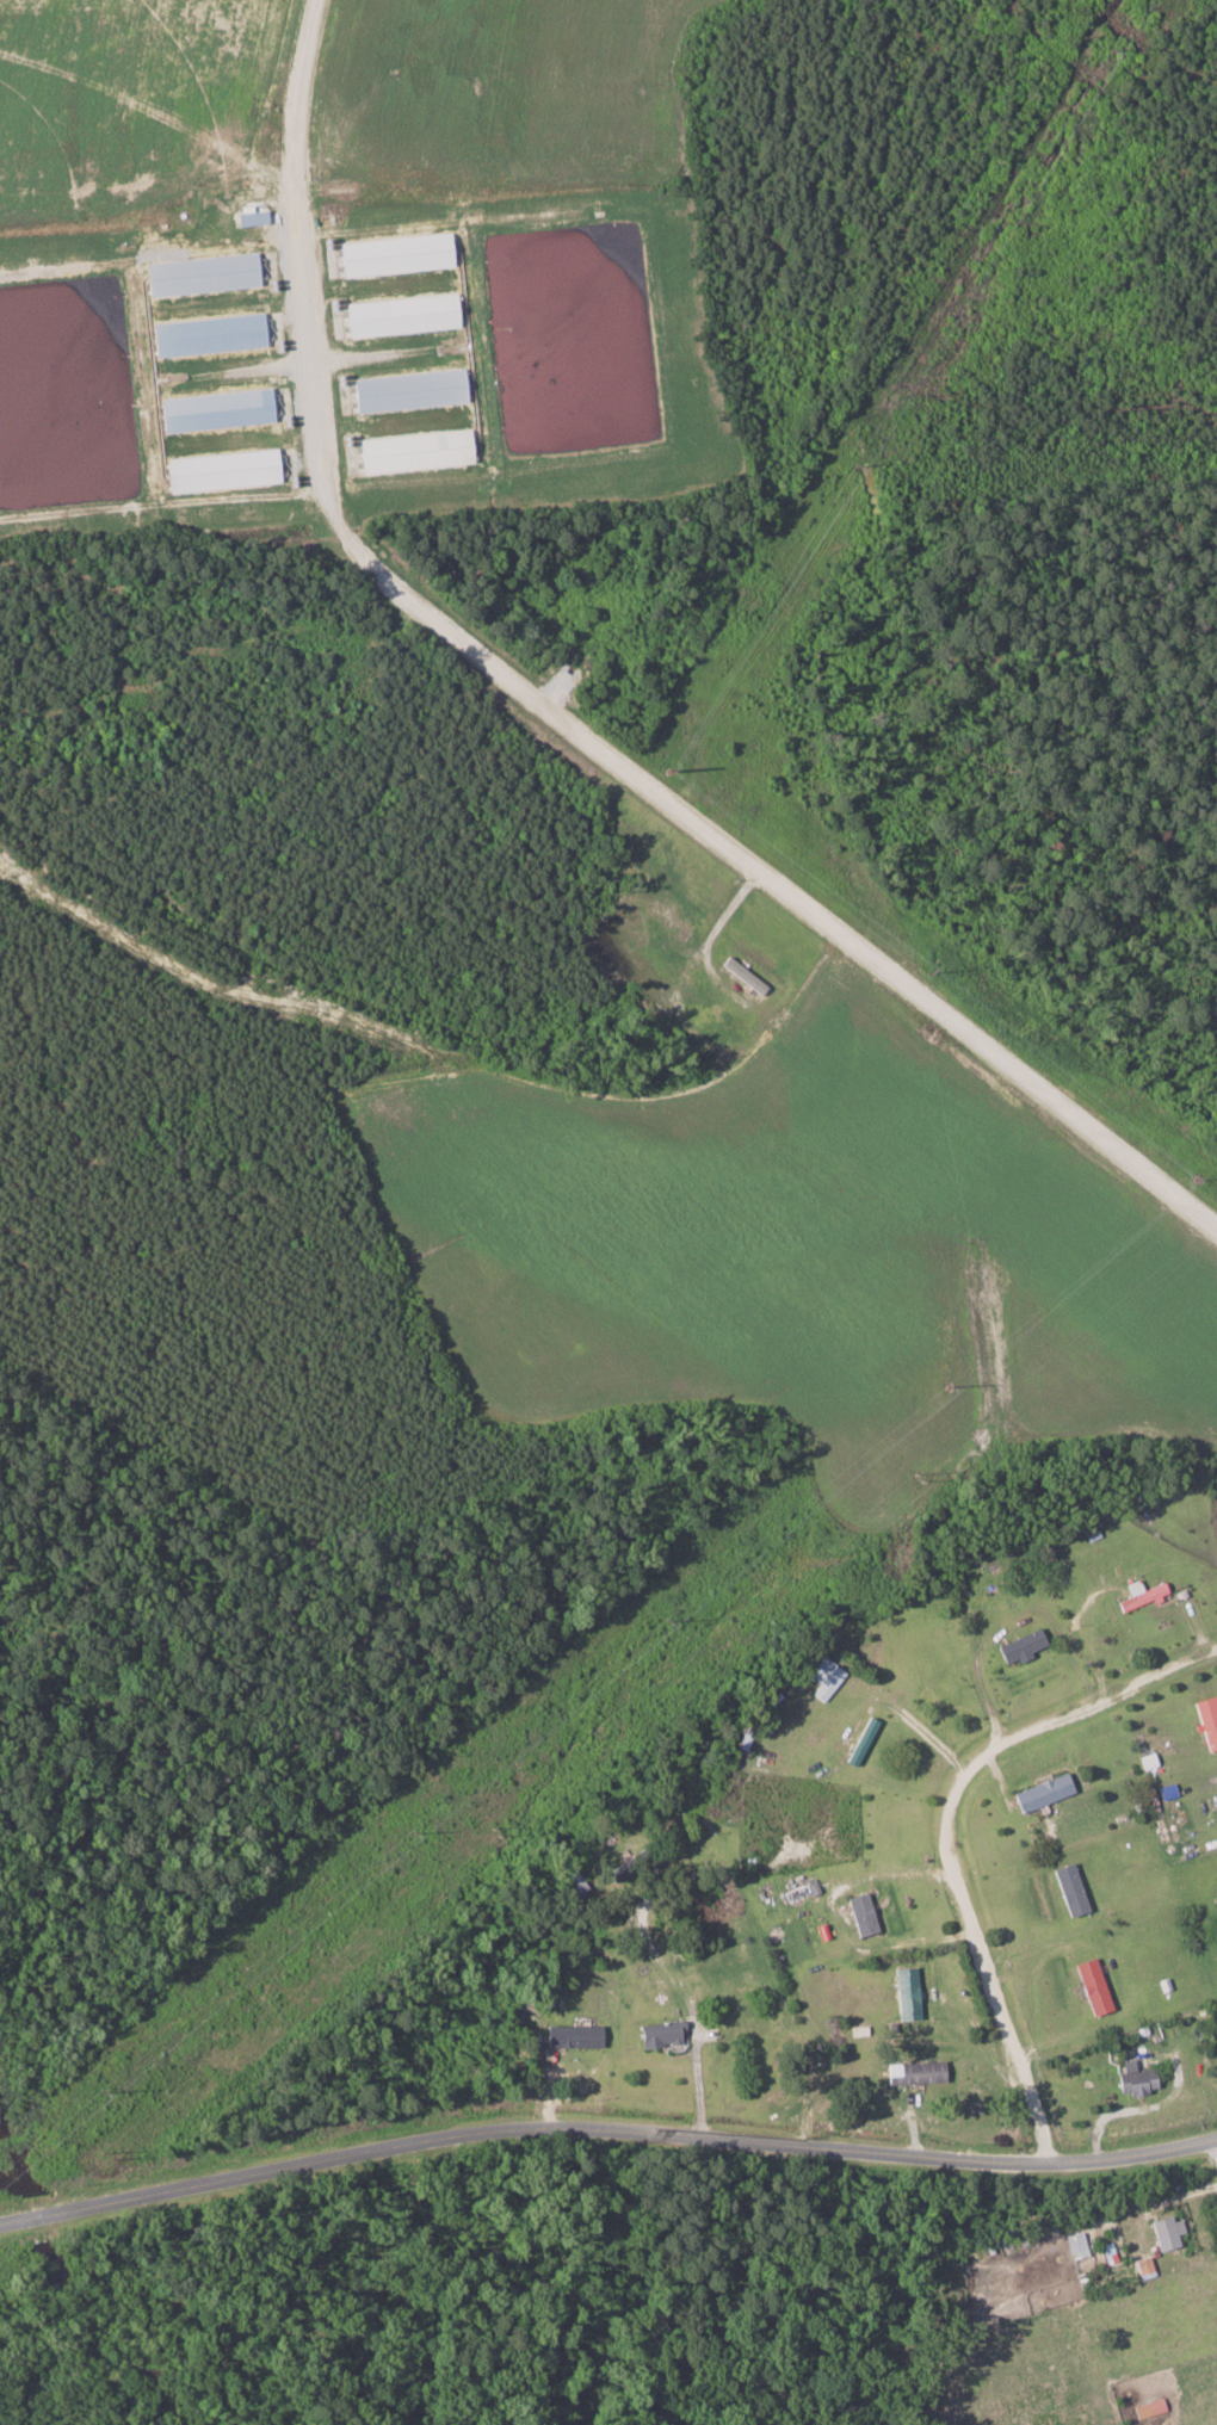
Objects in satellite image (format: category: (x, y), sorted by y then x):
power tower: (1110, 52)
building: (394, 254)
building: (199, 274)
building: (400, 315)
building: (206, 335)
building: (408, 390)
building: (215, 410)
building: (414, 451)
power tower: (853, 468)
building: (221, 471)
road: (562, 720)
power tower: (672, 773)
power tower: (932, 975)
power tower: (1197, 1179)
power tower: (949, 1387)
power tower: (919, 1477)
building: (1089, 1530)
building: (1139, 1594)
power tower: (668, 1621)
building: (1019, 1646)
building: (824, 1677)
building: (1207, 1720)
building: (860, 1740)
building: (1042, 1792)
power tower: (499, 1831)
road: (949, 1832)
power tower: (410, 1836)
building: (1069, 1889)
building: (860, 1913)
building: (1092, 1987)
building: (906, 1993)
building: (660, 2034)
building: (572, 2036)
building: (915, 2072)
building: (1135, 2080)
power tower: (105, 2095)
road: (605, 2127)
road: (1216, 2141)
power tower: (107, 2153)
building: (1167, 2232)
building: (1076, 2245)
building: (1143, 2265)
building: (1149, 2408)

